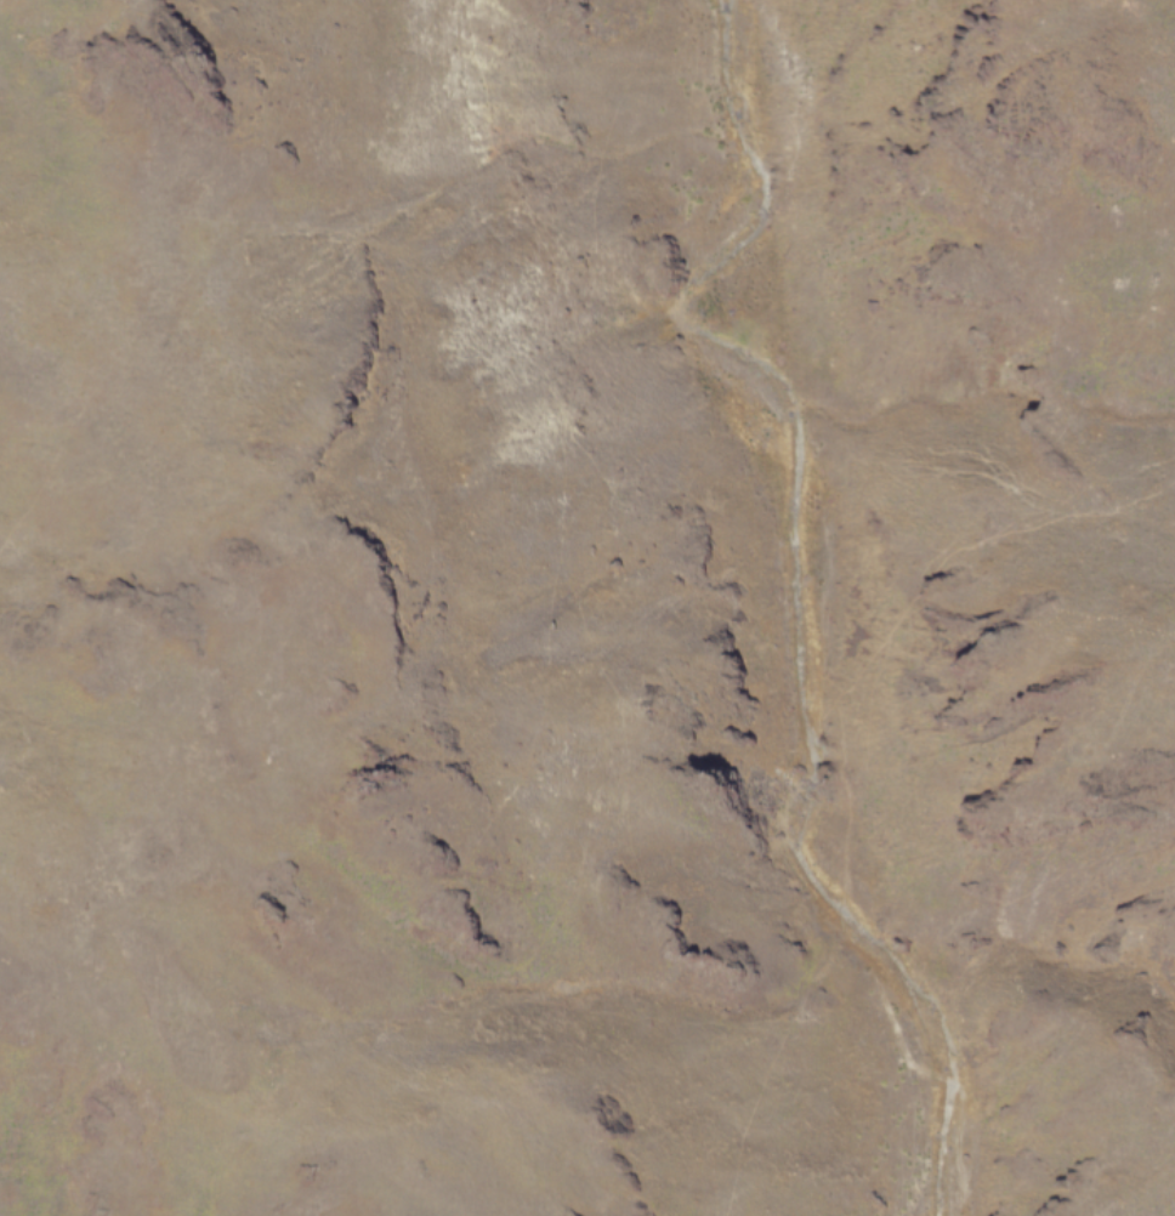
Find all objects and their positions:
road: (913, 1066)

